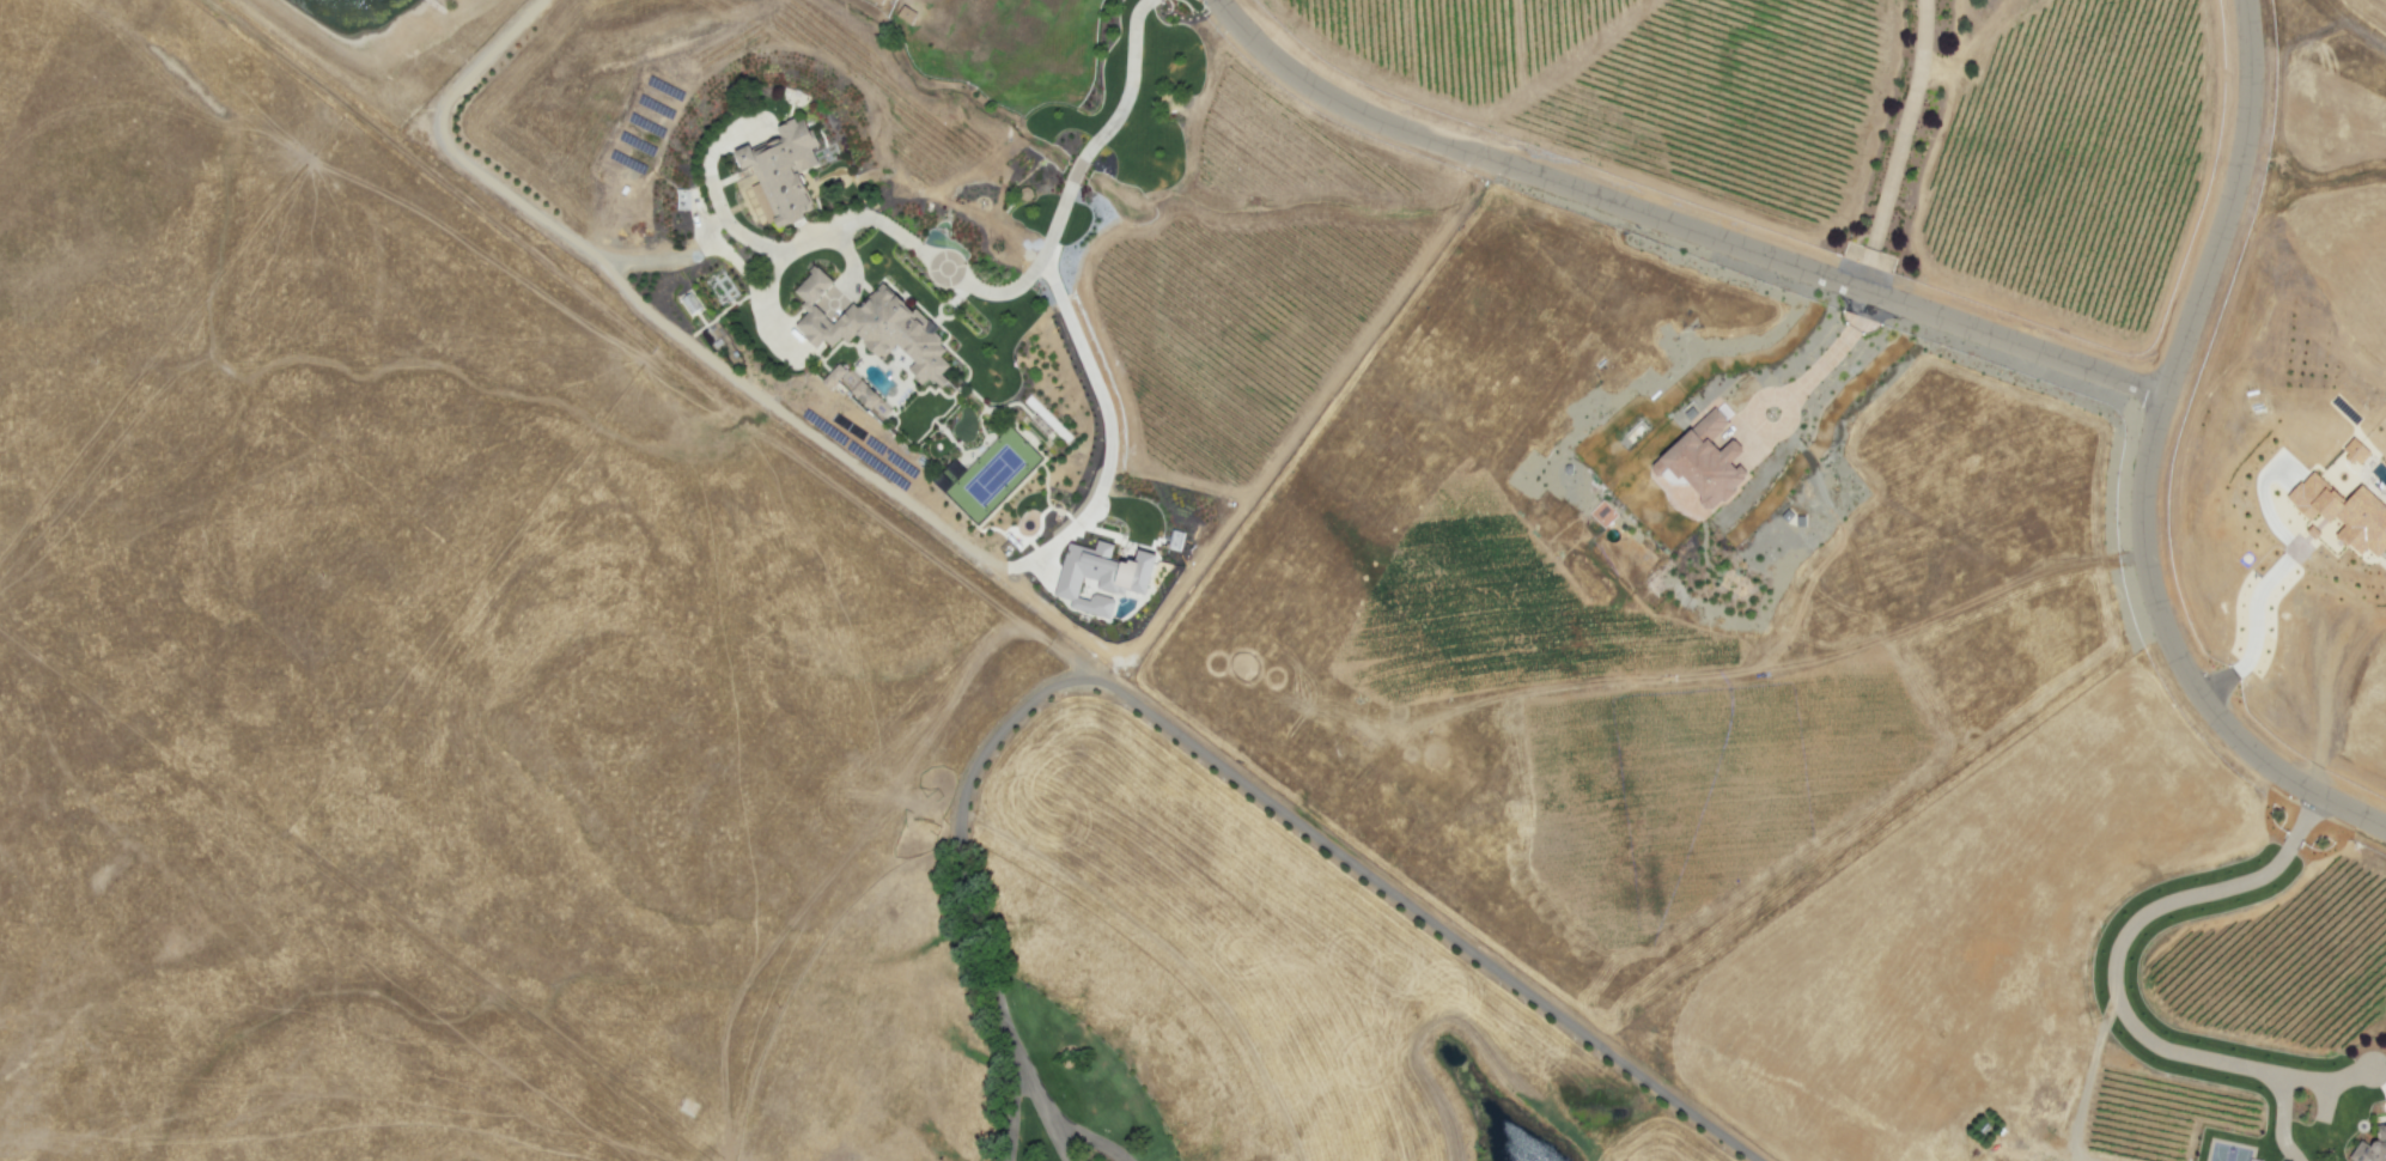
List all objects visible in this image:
building: (877, 1)
road: (1899, 147)
building: (781, 172)
road: (503, 186)
road: (1674, 229)
road: (974, 285)
building: (874, 327)
road: (1821, 358)
building: (858, 390)
road: (797, 421)
road: (1107, 428)
building: (2355, 452)
building: (1703, 461)
road: (2150, 461)
building: (2344, 513)
building: (1101, 576)
road: (2254, 632)
road: (1192, 744)
road: (2112, 1004)
road: (2083, 1086)
building: (2372, 1148)
road: (2068, 1159)
road: (2075, 1159)

